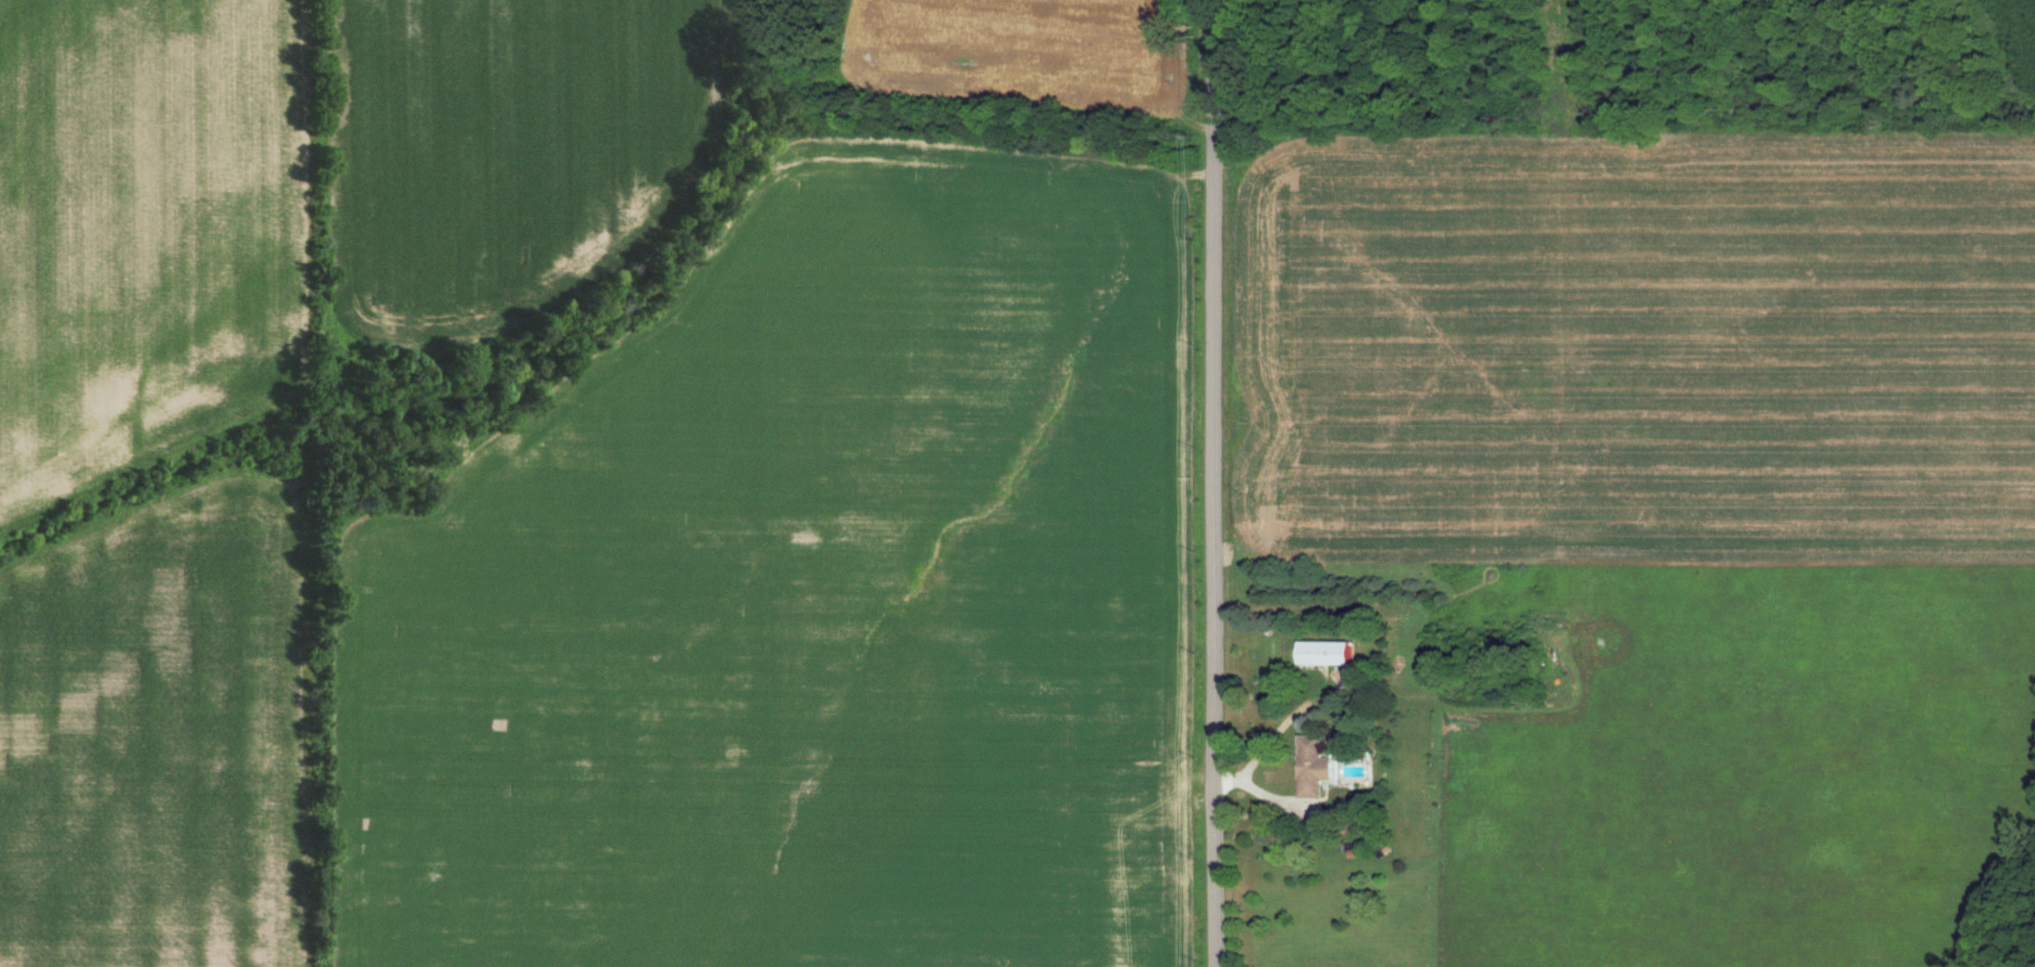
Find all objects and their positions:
road: (1213, 483)
building: (1323, 651)
building: (1312, 766)

